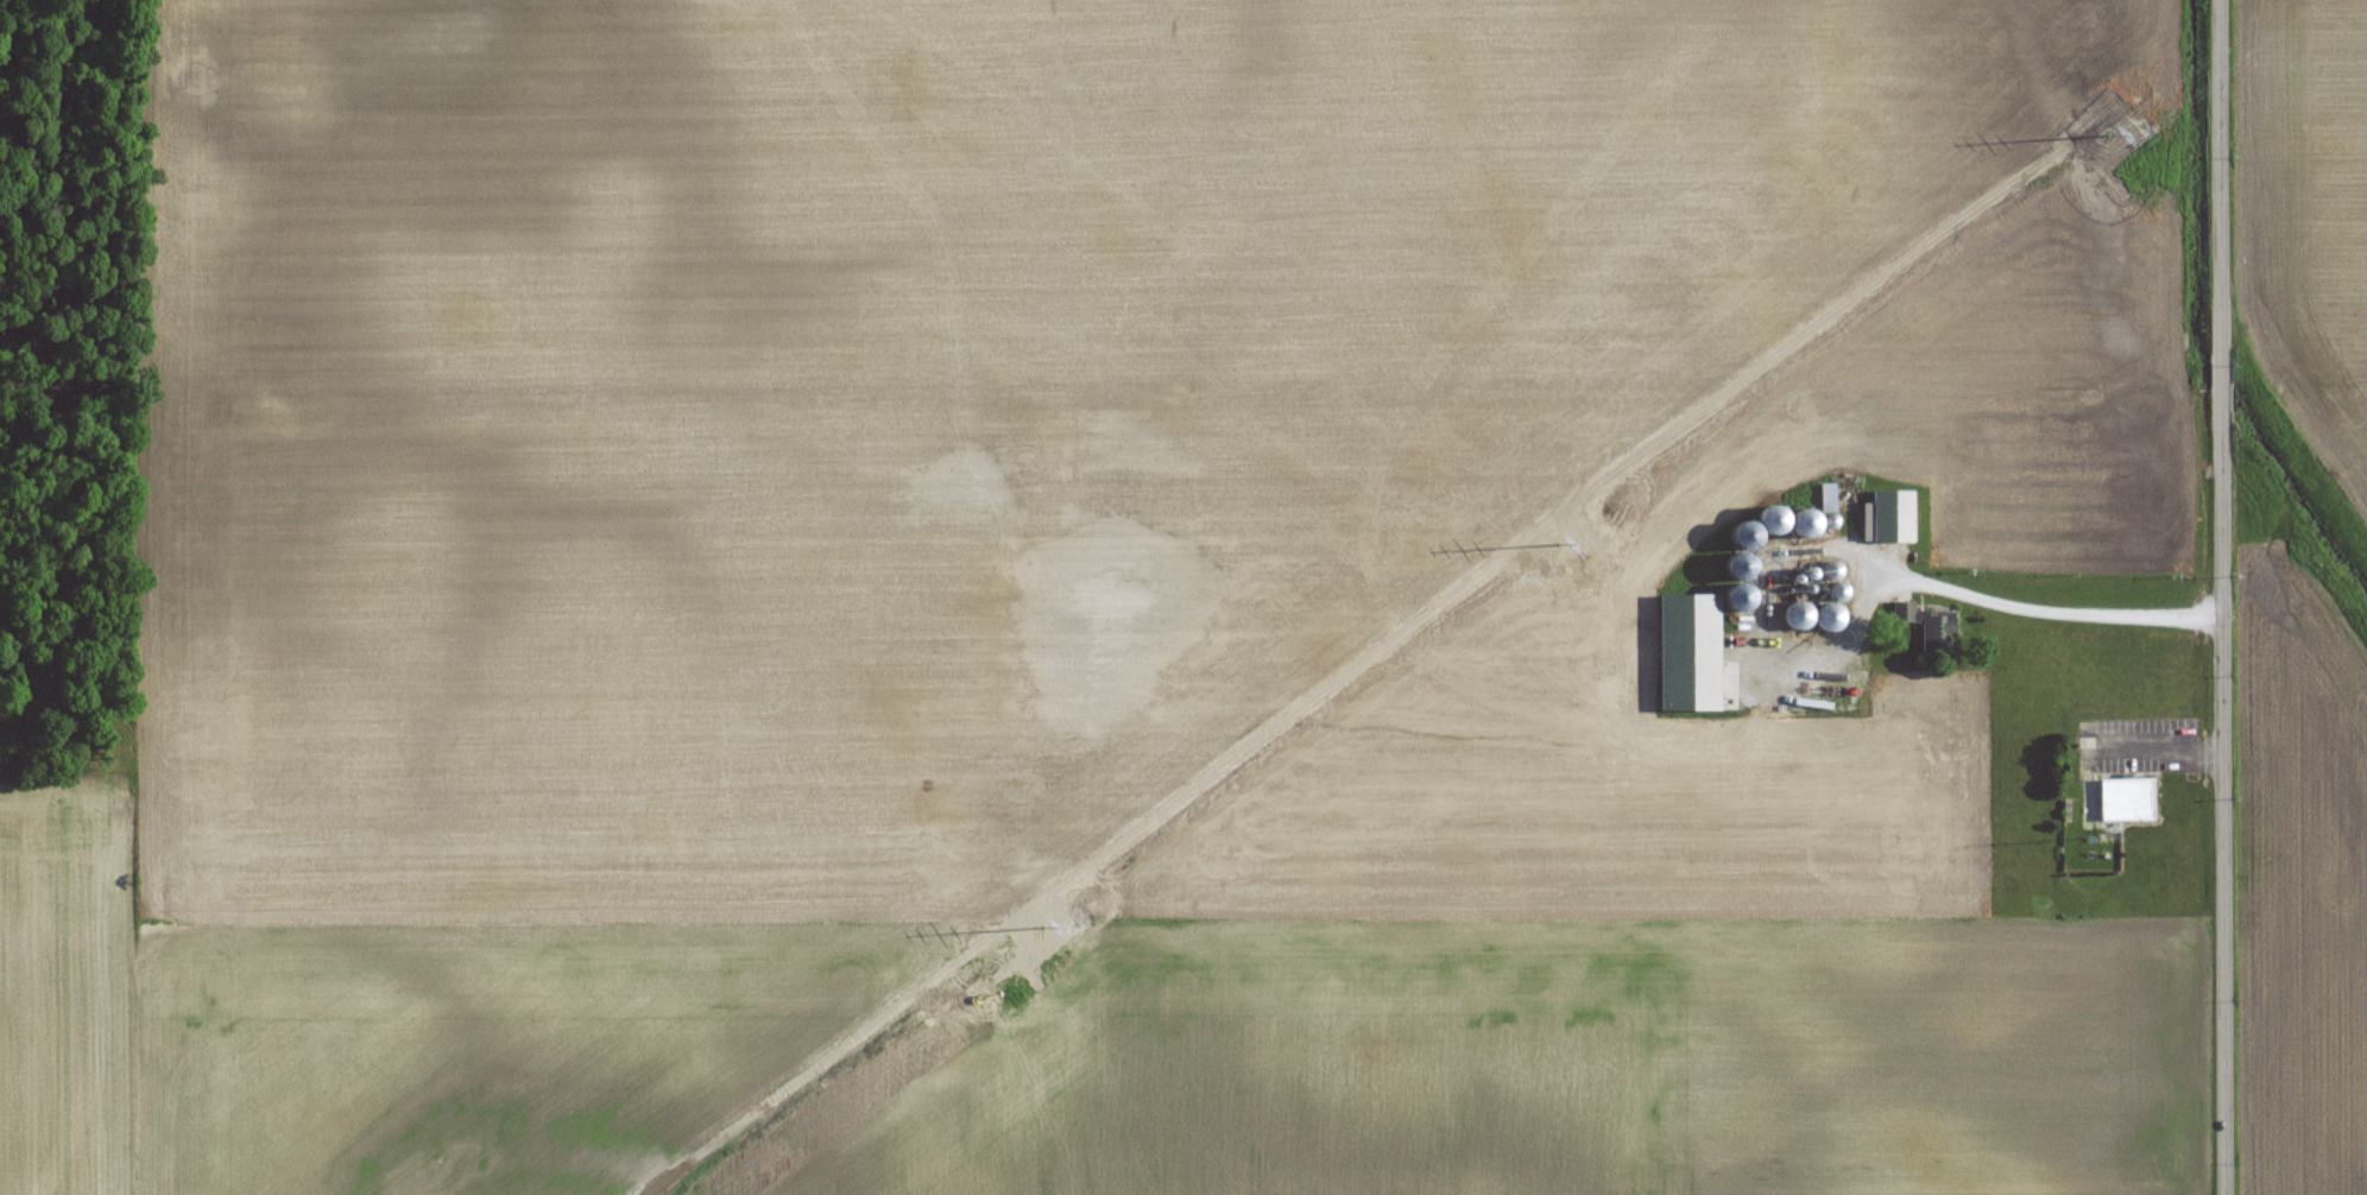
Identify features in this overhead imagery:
power tower: (2126, 173)
building: (1894, 516)
building: (1774, 519)
building: (1807, 523)
building: (1747, 549)
building: (1832, 570)
power tower: (1586, 573)
building: (1839, 590)
road: (1964, 592)
road: (2222, 597)
building: (1799, 615)
building: (1830, 615)
building: (1929, 624)
building: (2127, 799)
power tower: (1011, 992)

